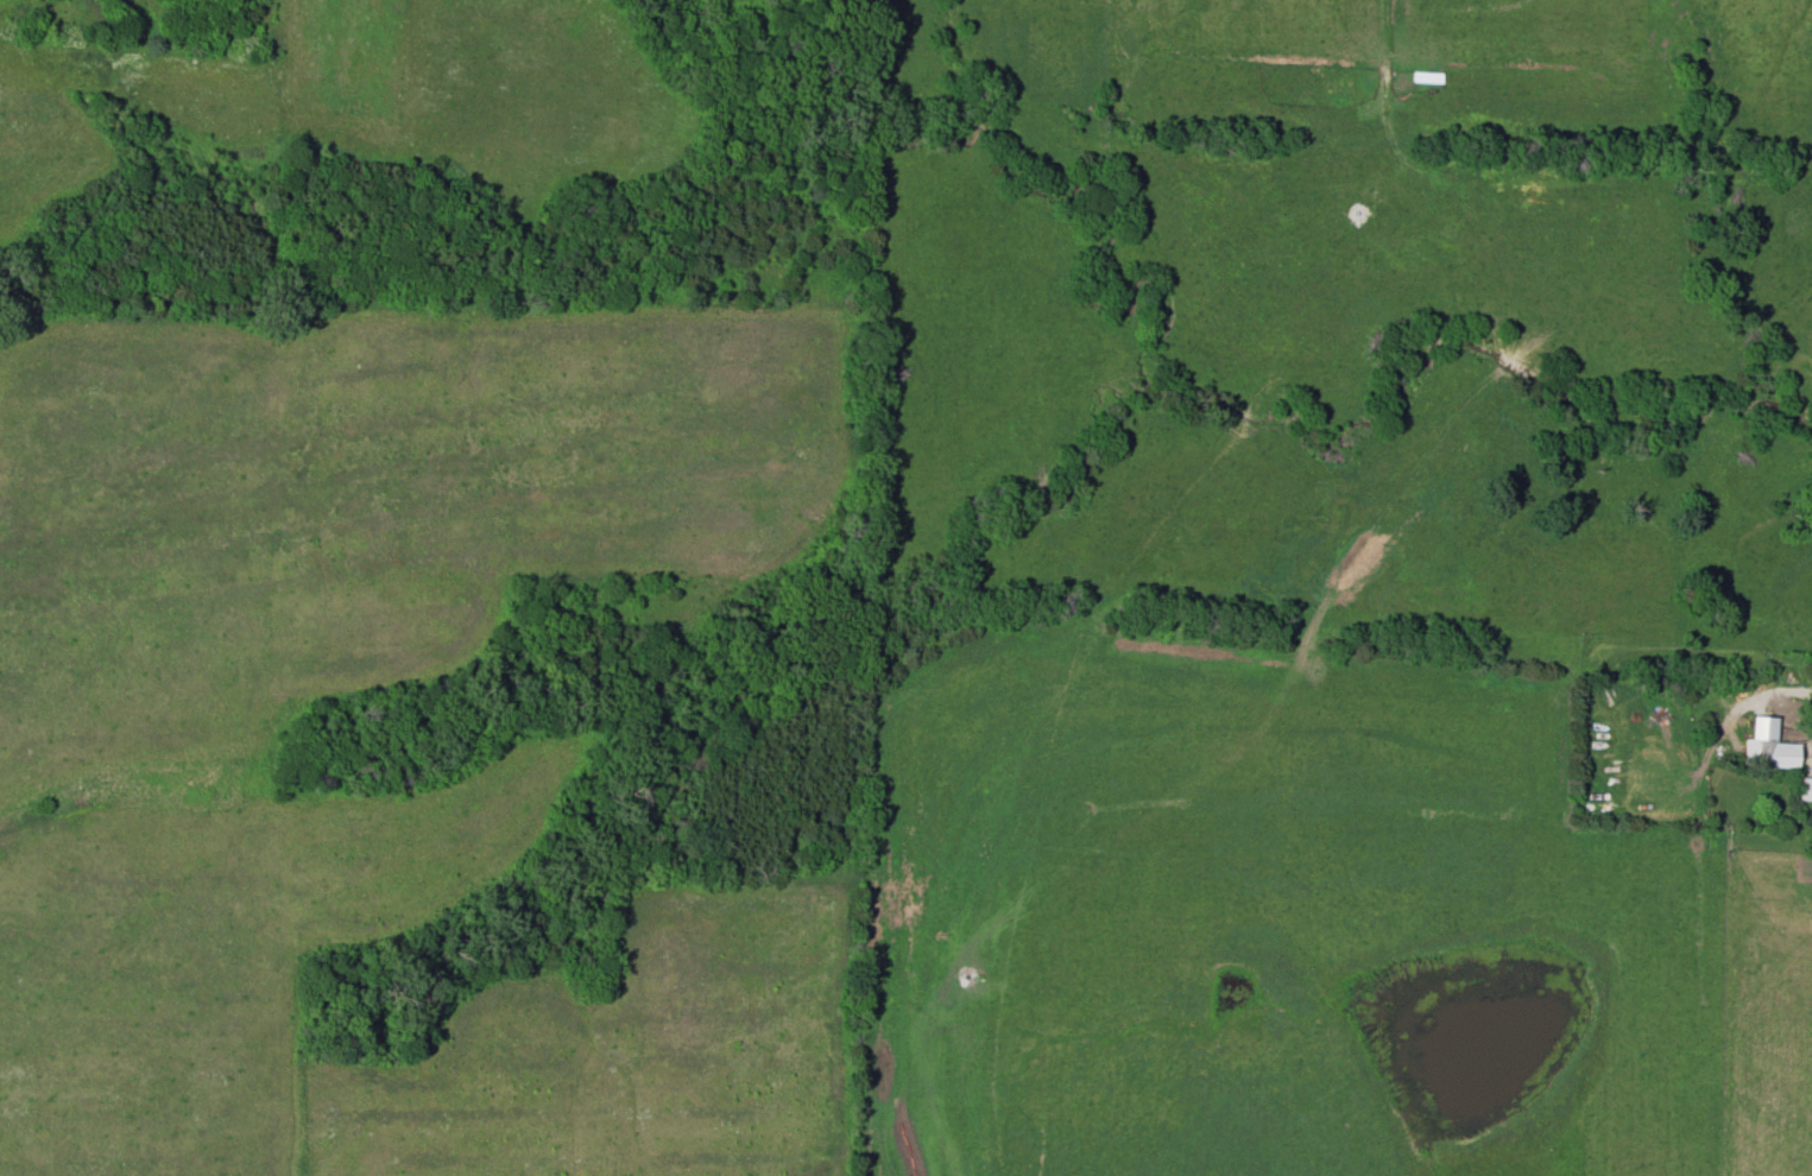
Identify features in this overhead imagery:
building: (1766, 757)
building: (1805, 790)

